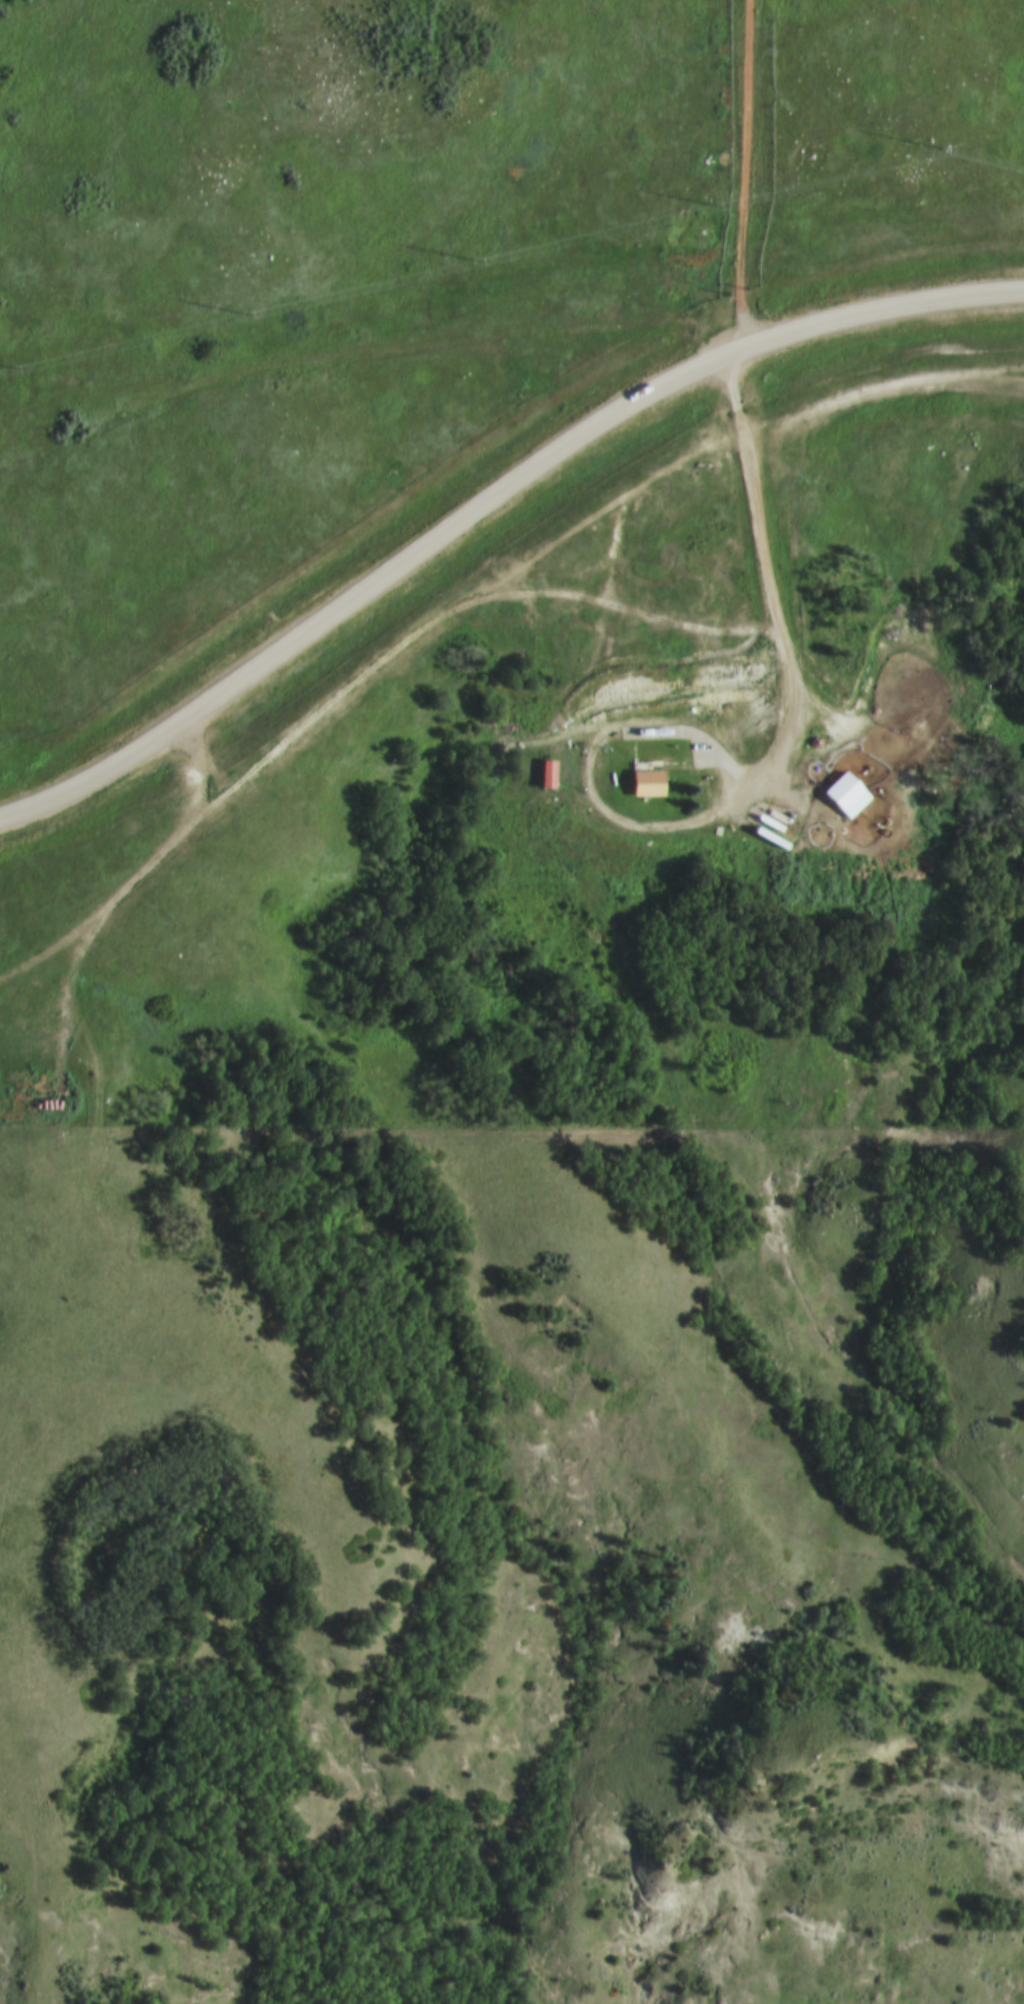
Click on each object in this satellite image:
road: (489, 502)
building: (564, 765)
building: (547, 770)
road: (762, 772)
building: (646, 779)
building: (847, 789)
road: (154, 871)

